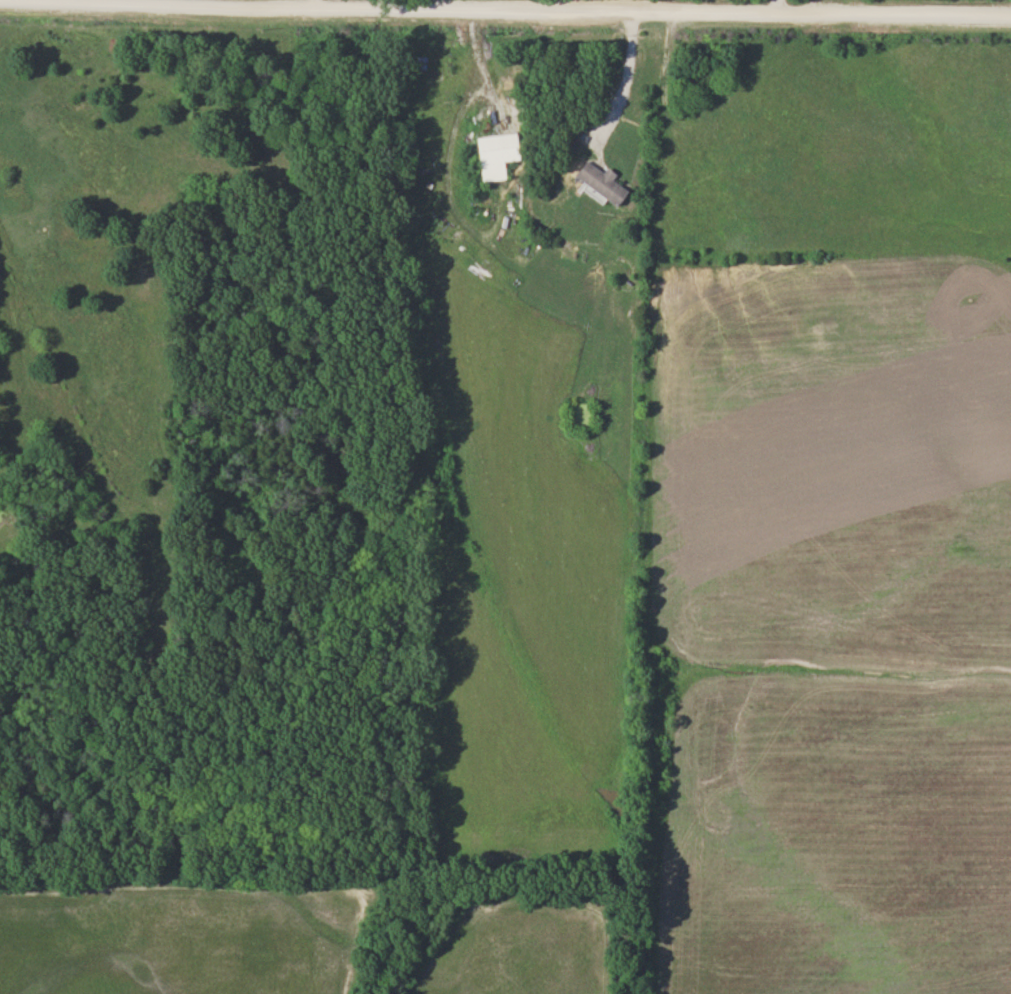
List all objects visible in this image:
road: (306, 4)
road: (505, 7)
road: (623, 77)
building: (499, 155)
building: (608, 183)

